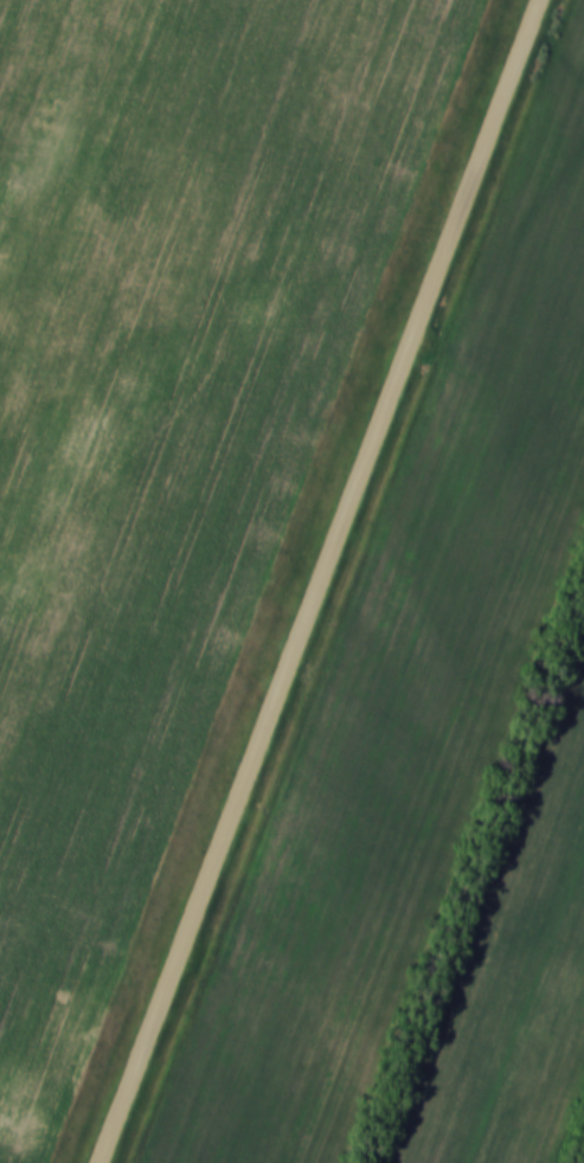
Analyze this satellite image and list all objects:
road: (316, 580)

